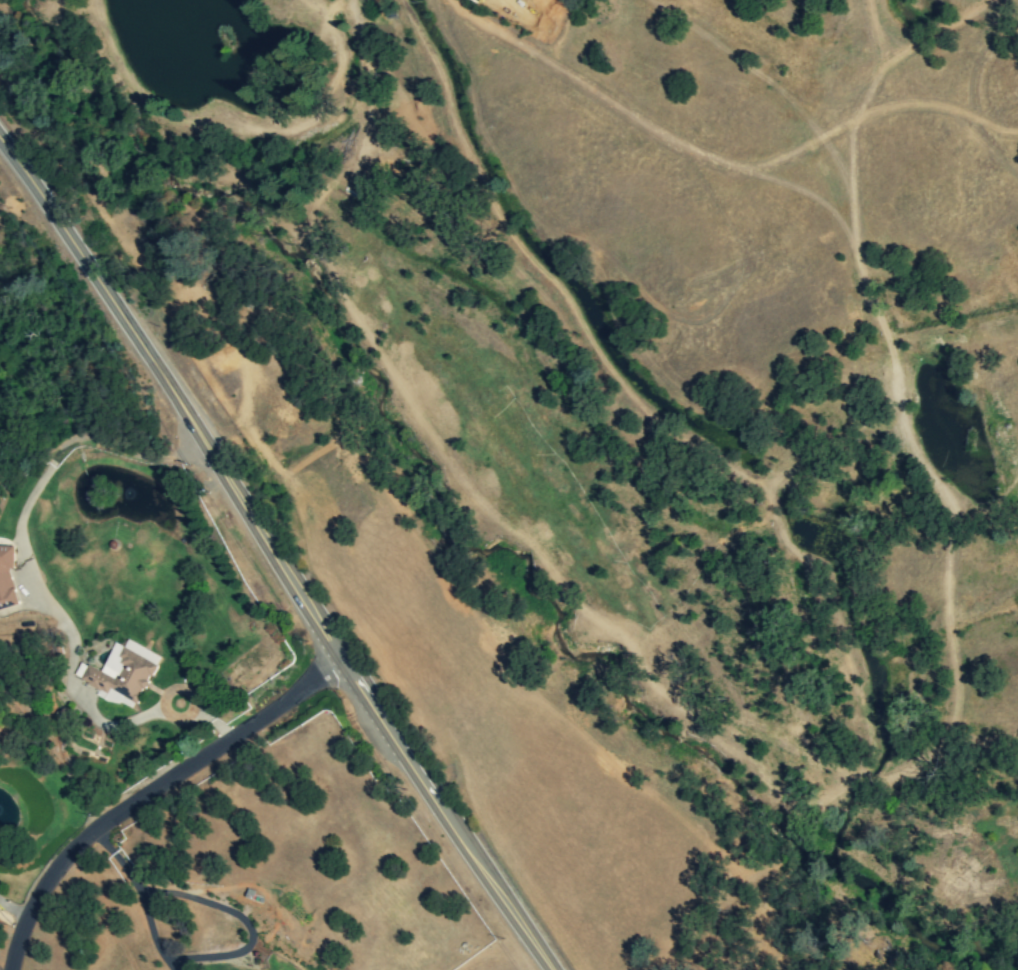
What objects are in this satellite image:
road: (107, 292)
building: (7, 577)
road: (37, 583)
road: (378, 711)
road: (149, 791)
road: (139, 895)
road: (13, 911)

